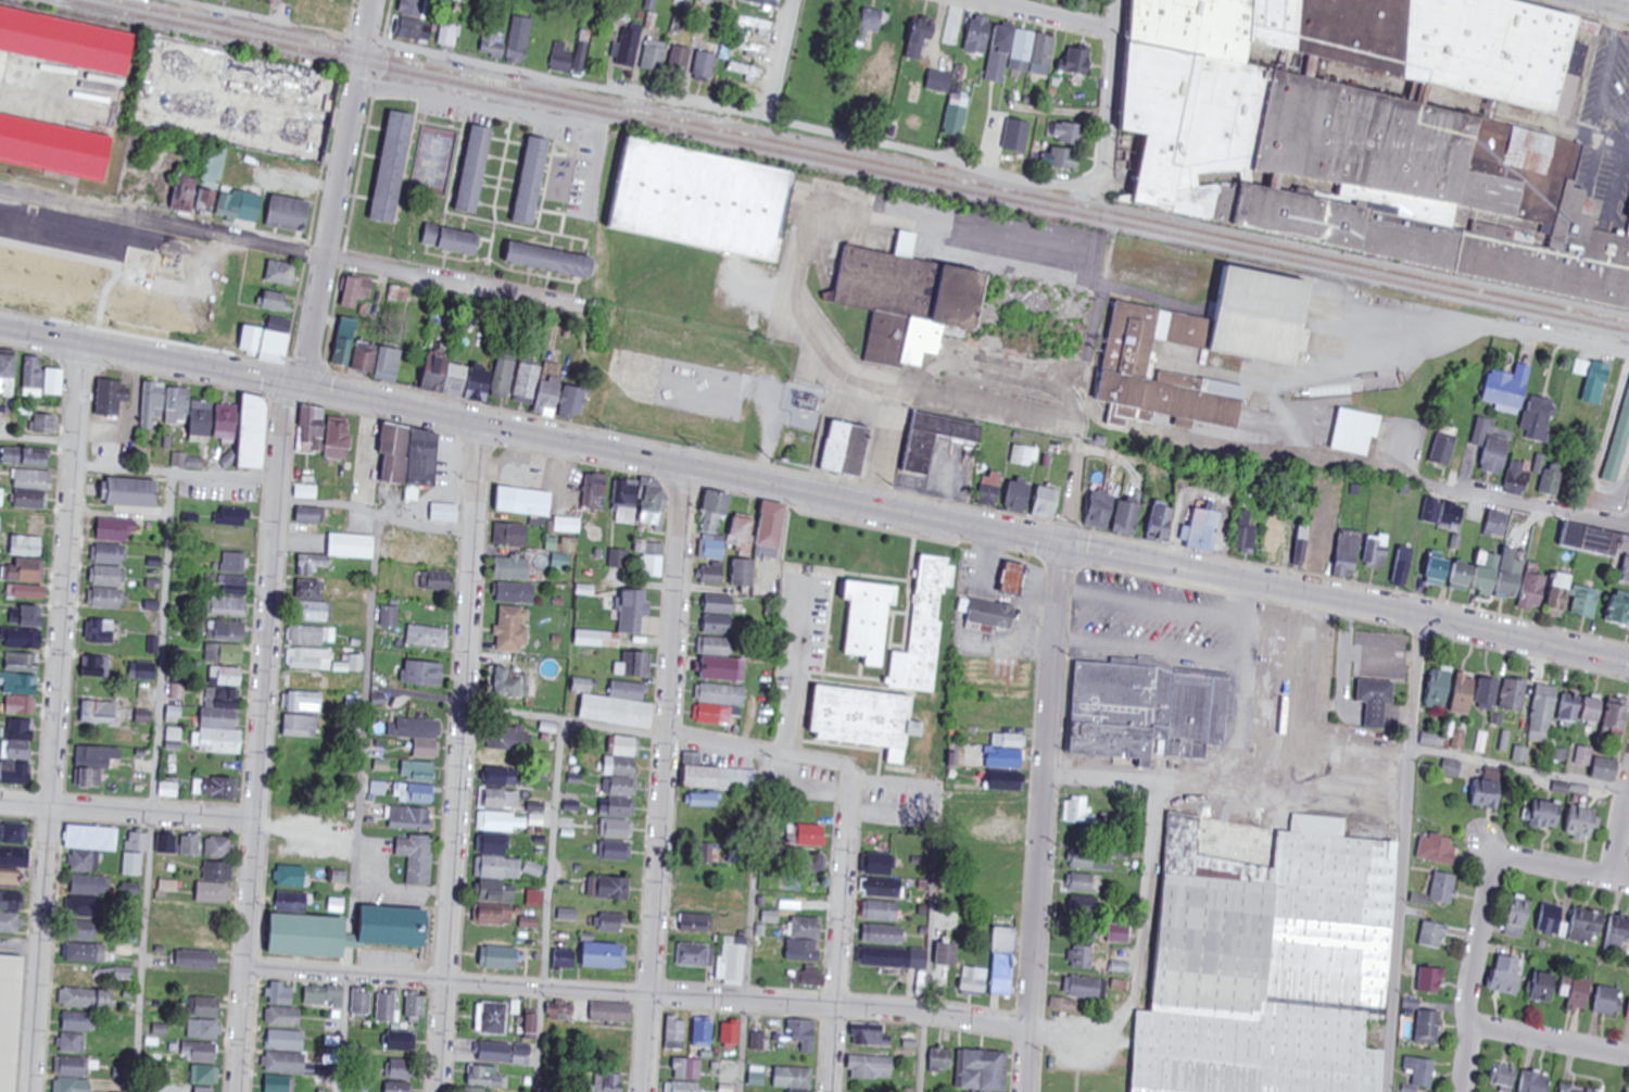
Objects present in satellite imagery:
road: (1590, 0)
road: (1606, 5)
road: (1049, 14)
building: (62, 42)
road: (470, 58)
road: (782, 58)
building: (242, 100)
road: (476, 105)
building: (1377, 134)
building: (51, 150)
park: (434, 160)
railway: (870, 161)
railway: (846, 165)
road: (1020, 177)
road: (333, 192)
building: (708, 201)
road: (279, 248)
building: (909, 300)
road: (1561, 339)
building: (1261, 351)
traffic signals: (299, 387)
building: (687, 397)
road: (531, 435)
road: (37, 440)
road: (175, 474)
road: (1073, 495)
road: (1528, 503)
road: (329, 509)
traffic signals: (1062, 544)
road: (1090, 550)
building: (1018, 578)
road: (1375, 607)
building: (988, 612)
building: (895, 679)
building: (1148, 711)
road: (516, 713)
road: (56, 717)
road: (261, 738)
road: (459, 757)
road: (1519, 770)
road: (661, 778)
road: (152, 782)
road: (359, 803)
road: (127, 812)
road: (1041, 817)
road: (847, 838)
road: (1620, 842)
road: (1402, 854)
road: (548, 906)
road: (1483, 908)
road: (930, 914)
road: (748, 920)
road: (21, 945)
road: (1136, 956)
building: (1267, 958)
road: (636, 993)
building: (12, 1019)
road: (1549, 1041)

